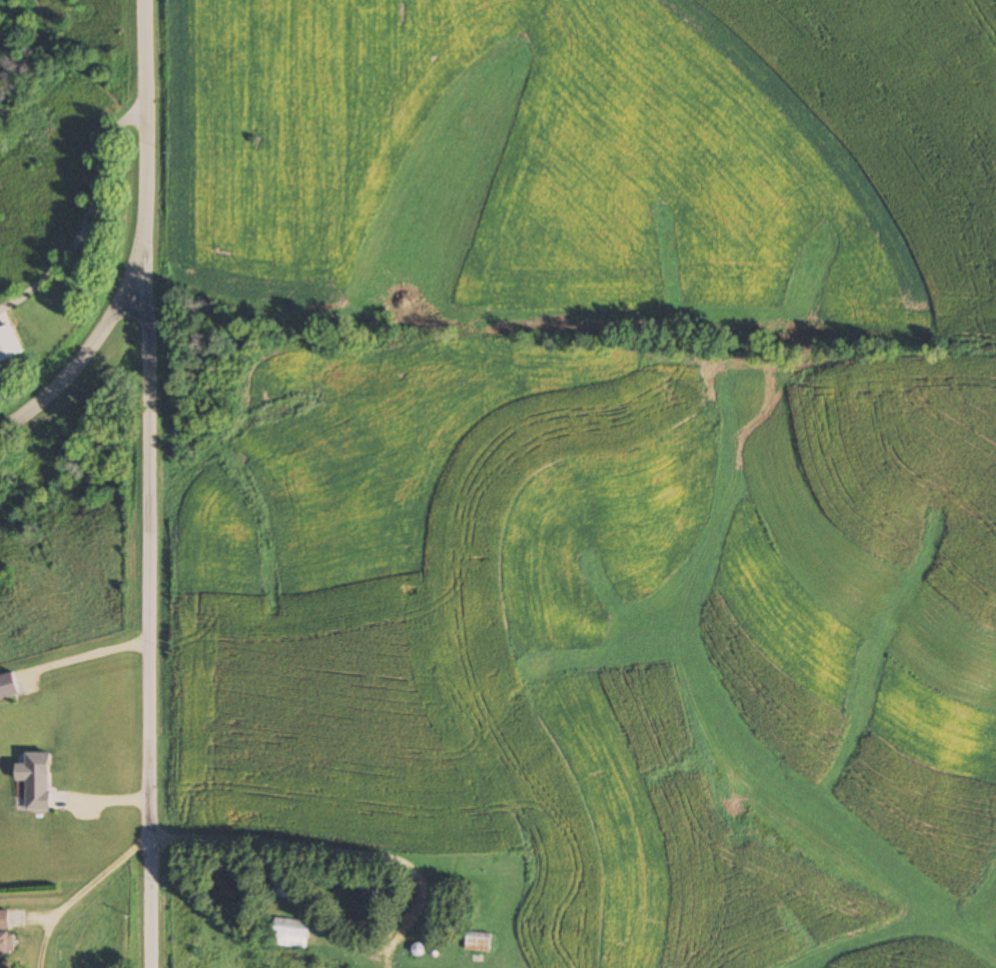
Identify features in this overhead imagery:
road: (145, 145)
road: (87, 226)
road: (72, 367)
road: (149, 624)
building: (6, 687)
building: (34, 780)
building: (488, 870)
road: (97, 876)
building: (292, 933)
building: (6, 937)
building: (479, 945)

